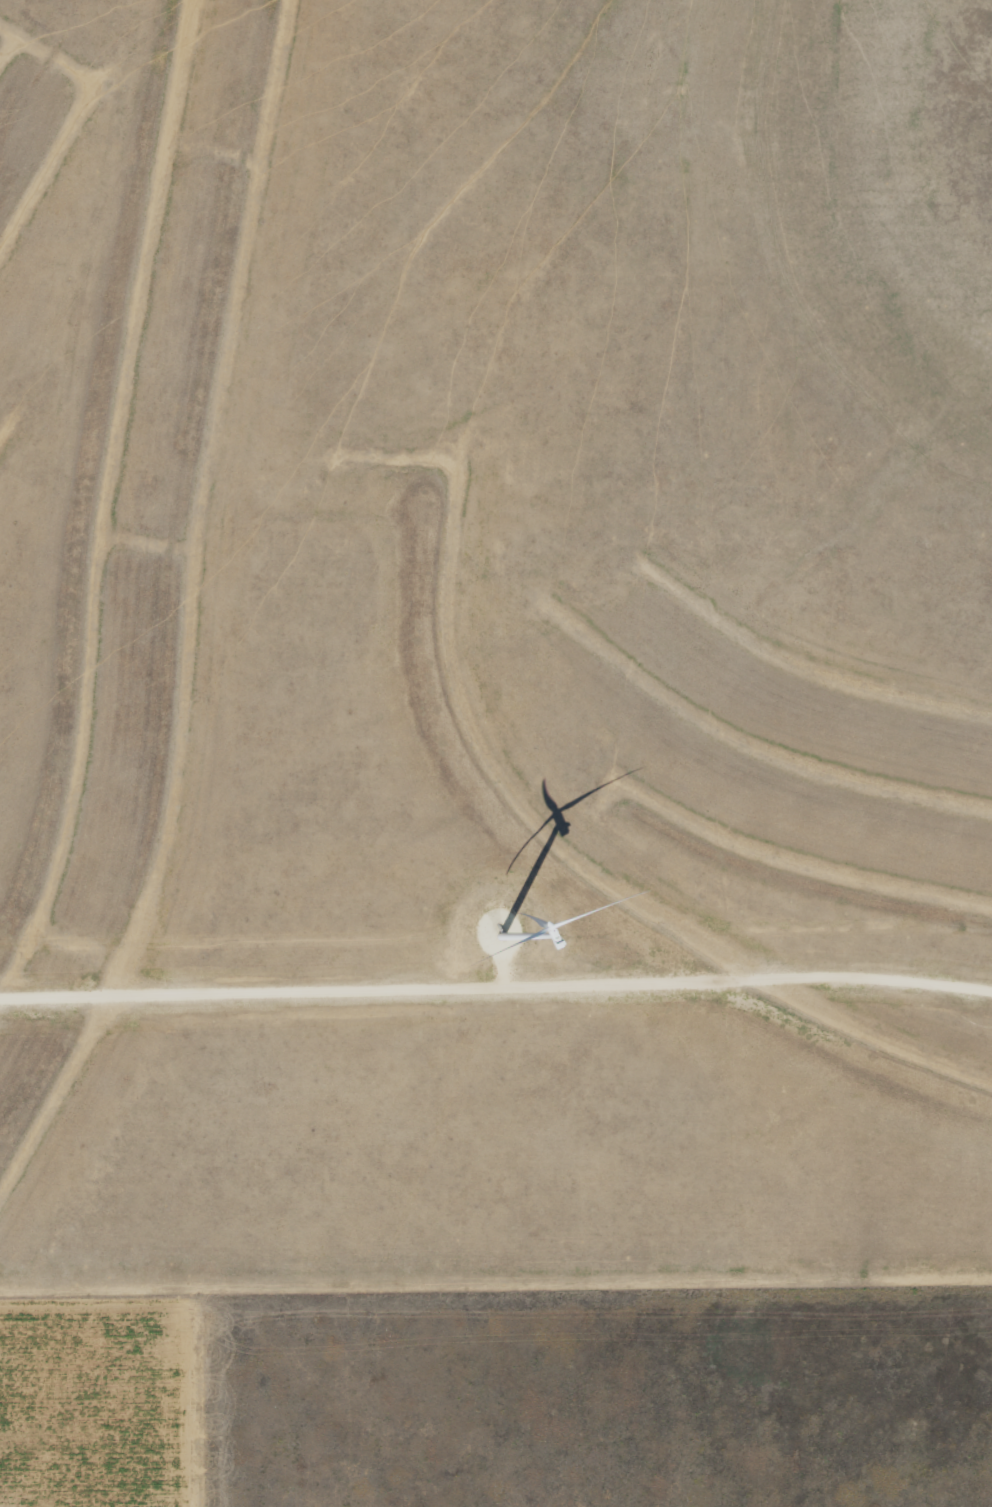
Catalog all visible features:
wind turbine: (506, 940)

